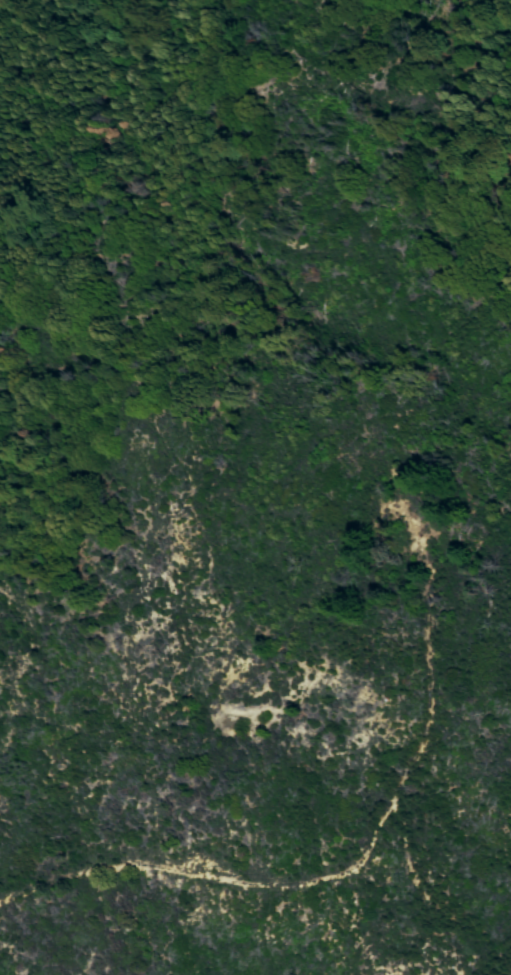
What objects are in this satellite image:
road: (363, 861)

